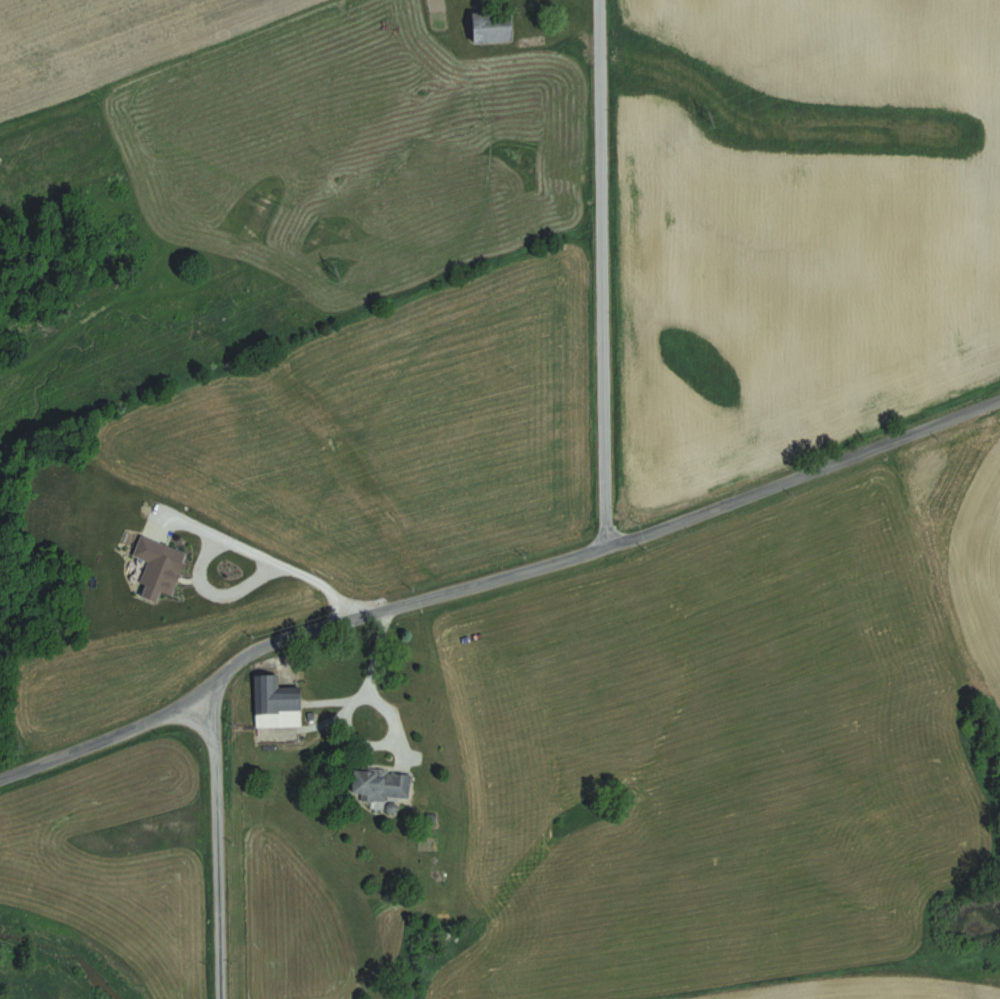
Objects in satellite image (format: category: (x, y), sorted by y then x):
building: (498, 25)
road: (597, 269)
road: (261, 553)
road: (489, 572)
road: (375, 645)
building: (279, 703)
road: (360, 742)
building: (385, 784)
road: (214, 849)

